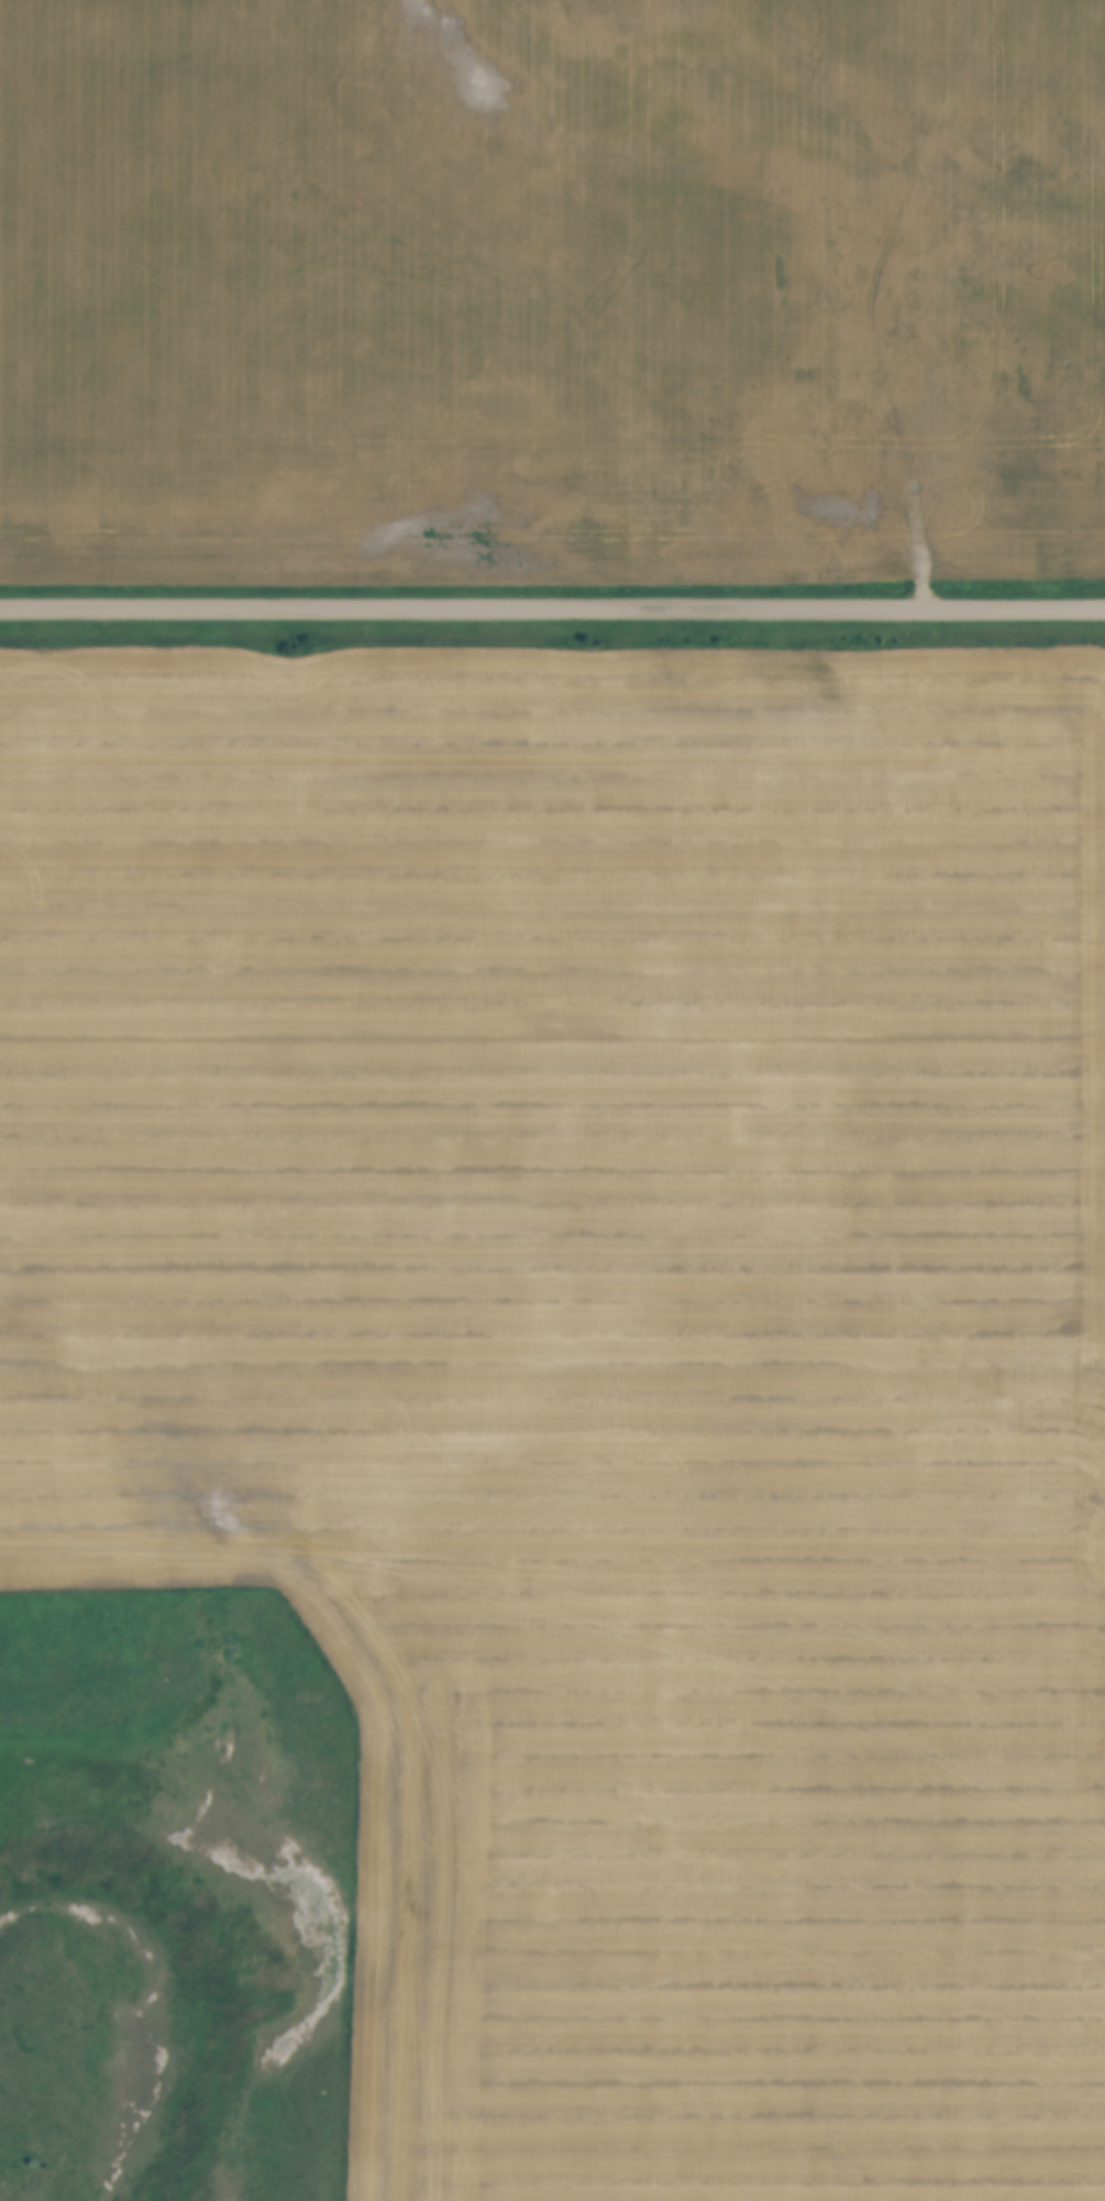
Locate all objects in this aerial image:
road: (552, 609)

